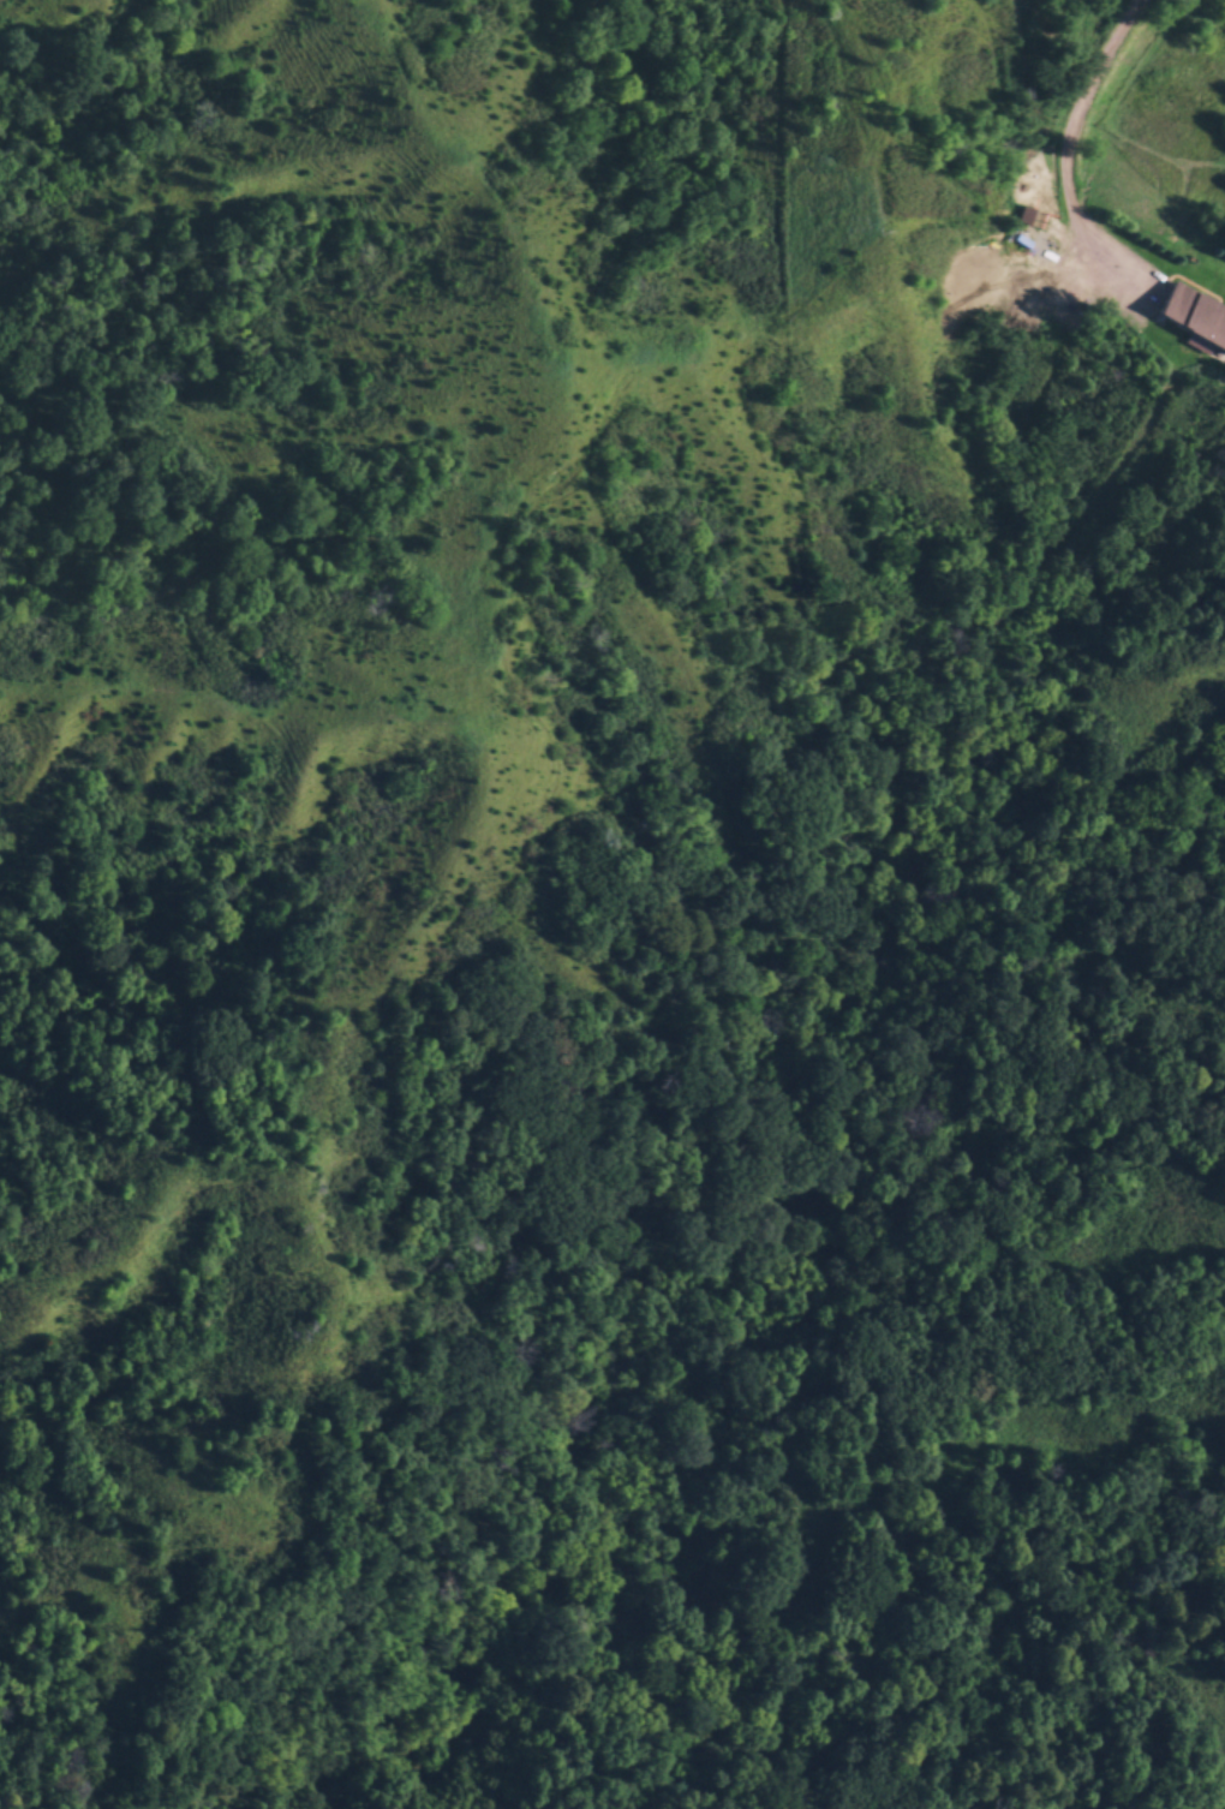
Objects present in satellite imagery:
road: (1065, 144)
building: (1033, 250)
building: (1189, 314)

